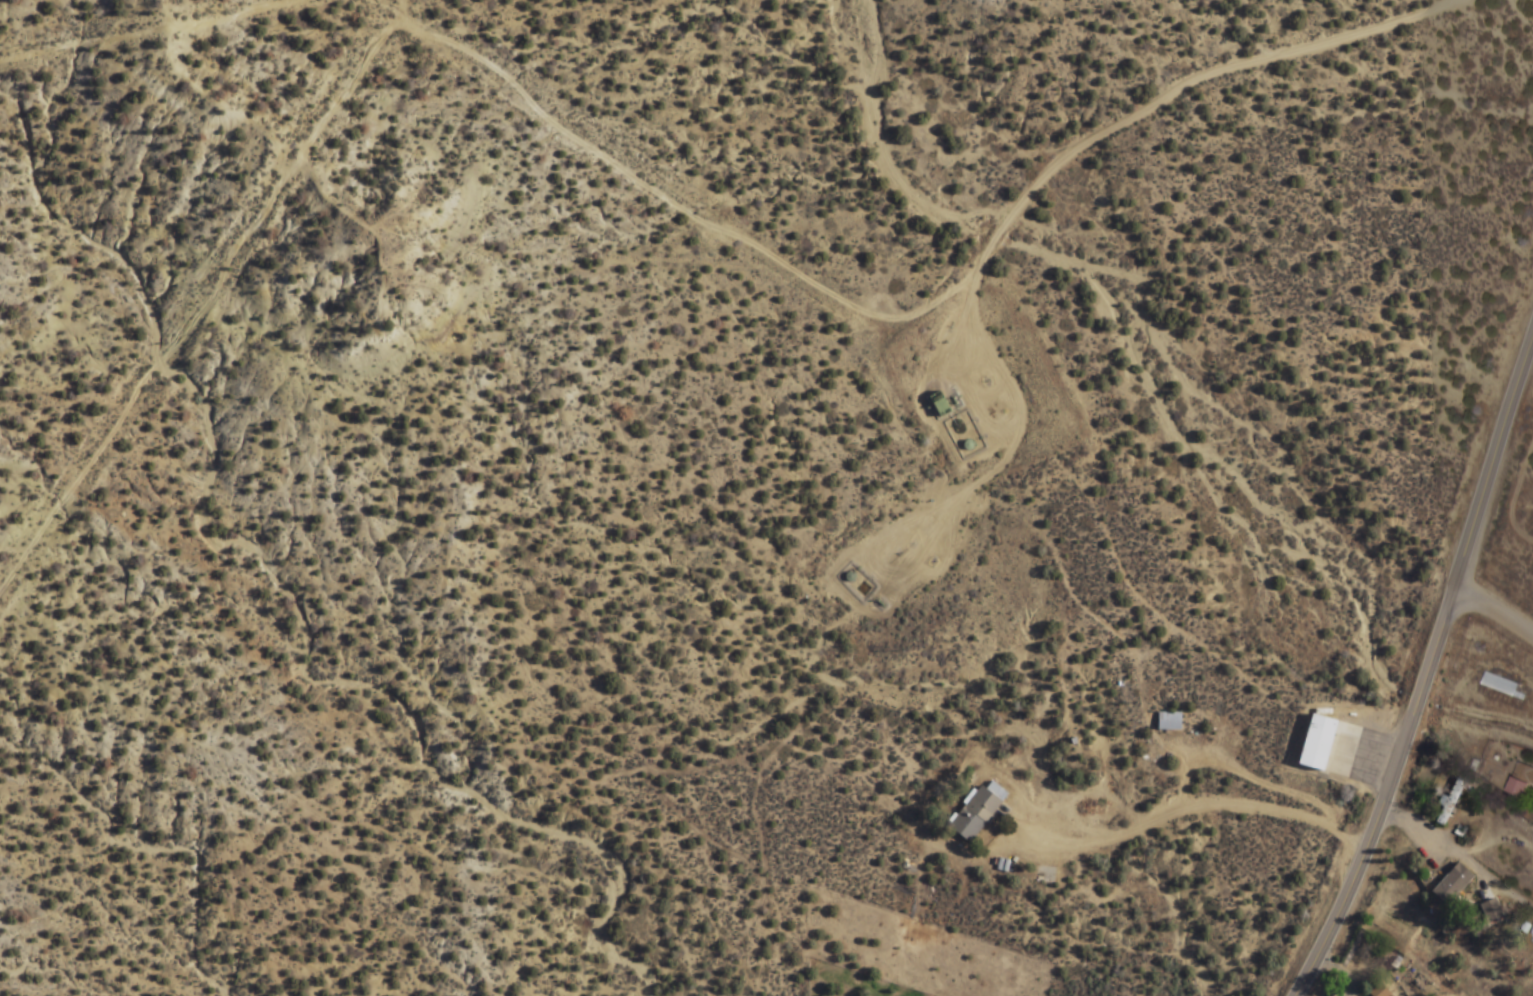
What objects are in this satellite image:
road: (146, 31)
road: (1186, 83)
road: (680, 208)
road: (210, 297)
road: (963, 379)
road: (963, 499)
road: (1493, 609)
road: (1425, 671)
building: (1505, 687)
building: (1168, 721)
building: (1317, 741)
building: (1522, 782)
building: (1448, 803)
building: (975, 814)
building: (1452, 883)
building: (1491, 910)
building: (1380, 991)

